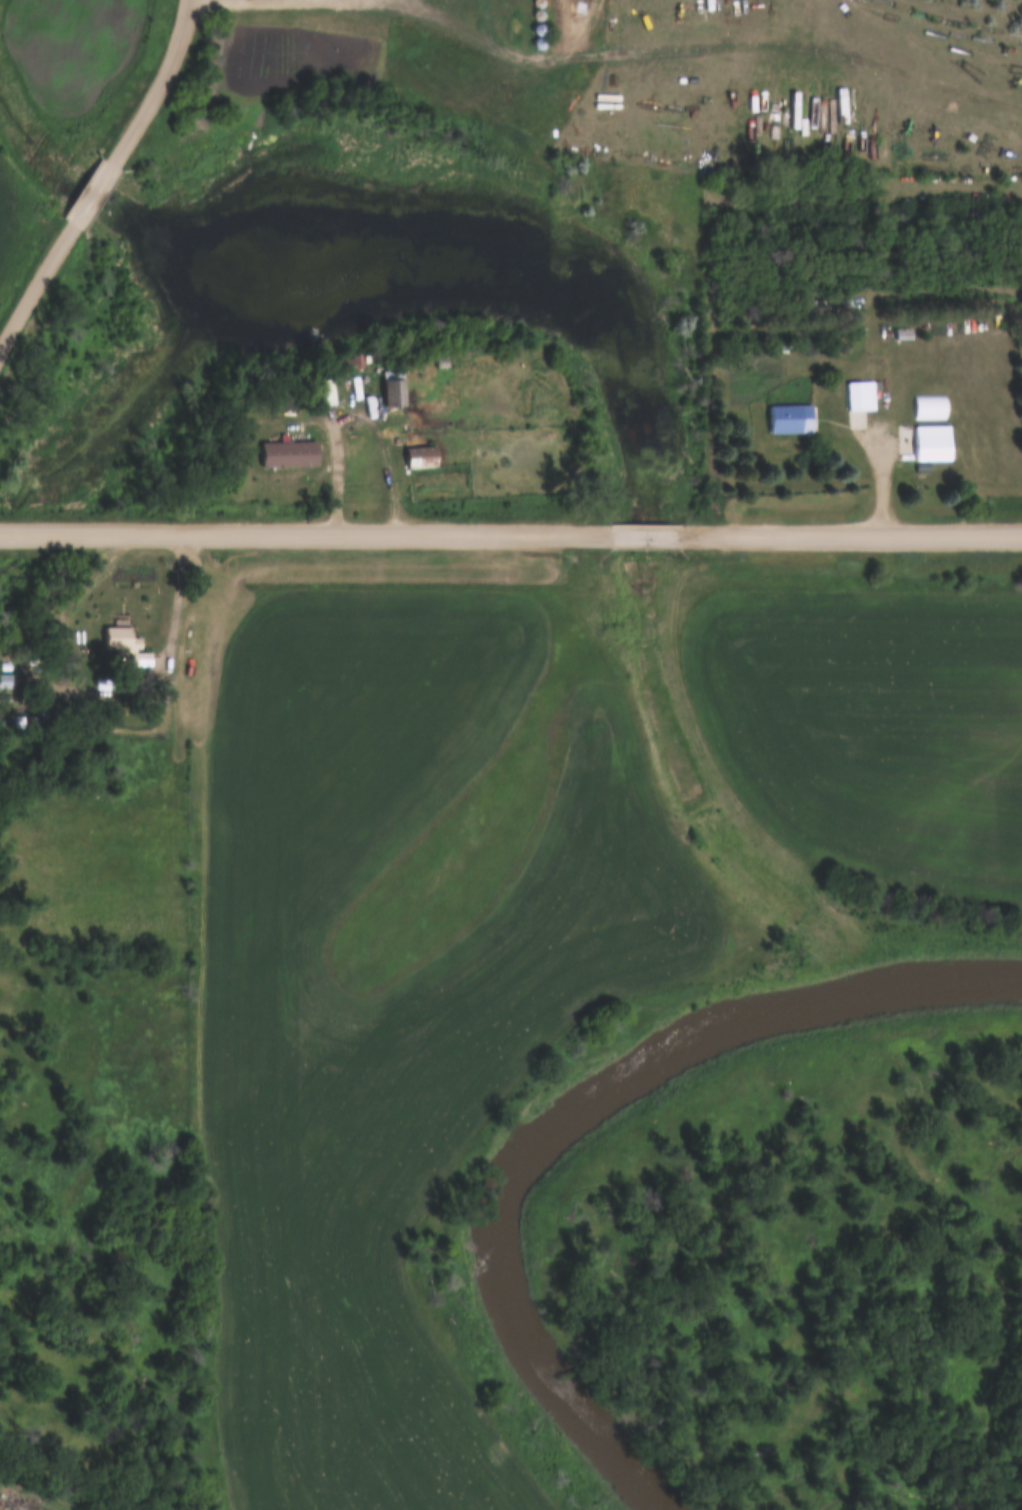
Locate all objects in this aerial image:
road: (944, 71)
road: (158, 82)
road: (93, 190)
road: (36, 283)
building: (842, 307)
building: (904, 335)
building: (325, 389)
building: (393, 389)
building: (862, 403)
road: (355, 415)
building: (790, 420)
building: (934, 443)
building: (286, 451)
building: (419, 458)
road: (879, 469)
road: (295, 531)
road: (628, 532)
road: (843, 532)
building: (120, 636)
building: (8, 683)
building: (104, 685)
river: (581, 1117)

